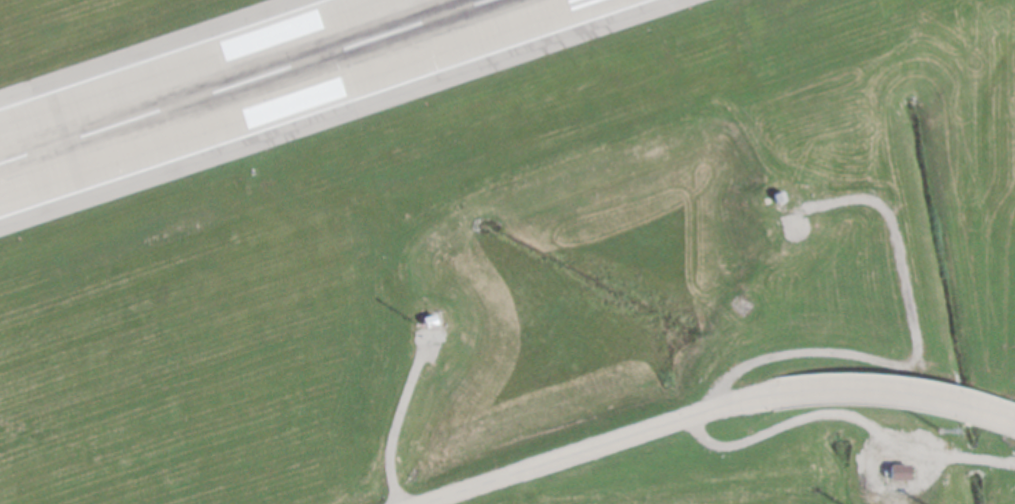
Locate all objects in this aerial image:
airport runway: (241, 80)
building: (776, 195)
airport: (507, 252)
road: (913, 355)
road: (707, 409)
road: (844, 415)
road: (1012, 416)
road: (388, 427)
building: (896, 471)

